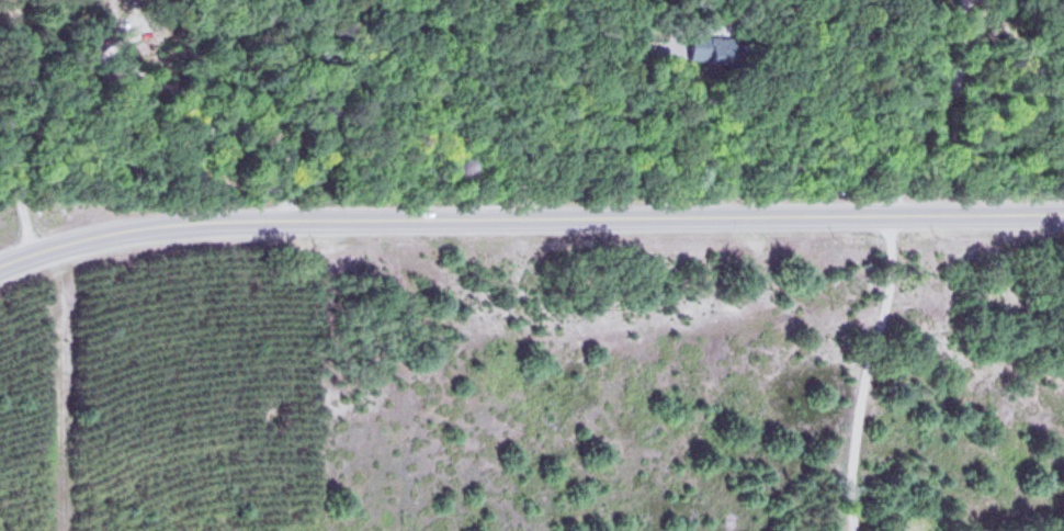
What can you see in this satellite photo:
road: (204, 126)
road: (16, 128)
road: (529, 218)

